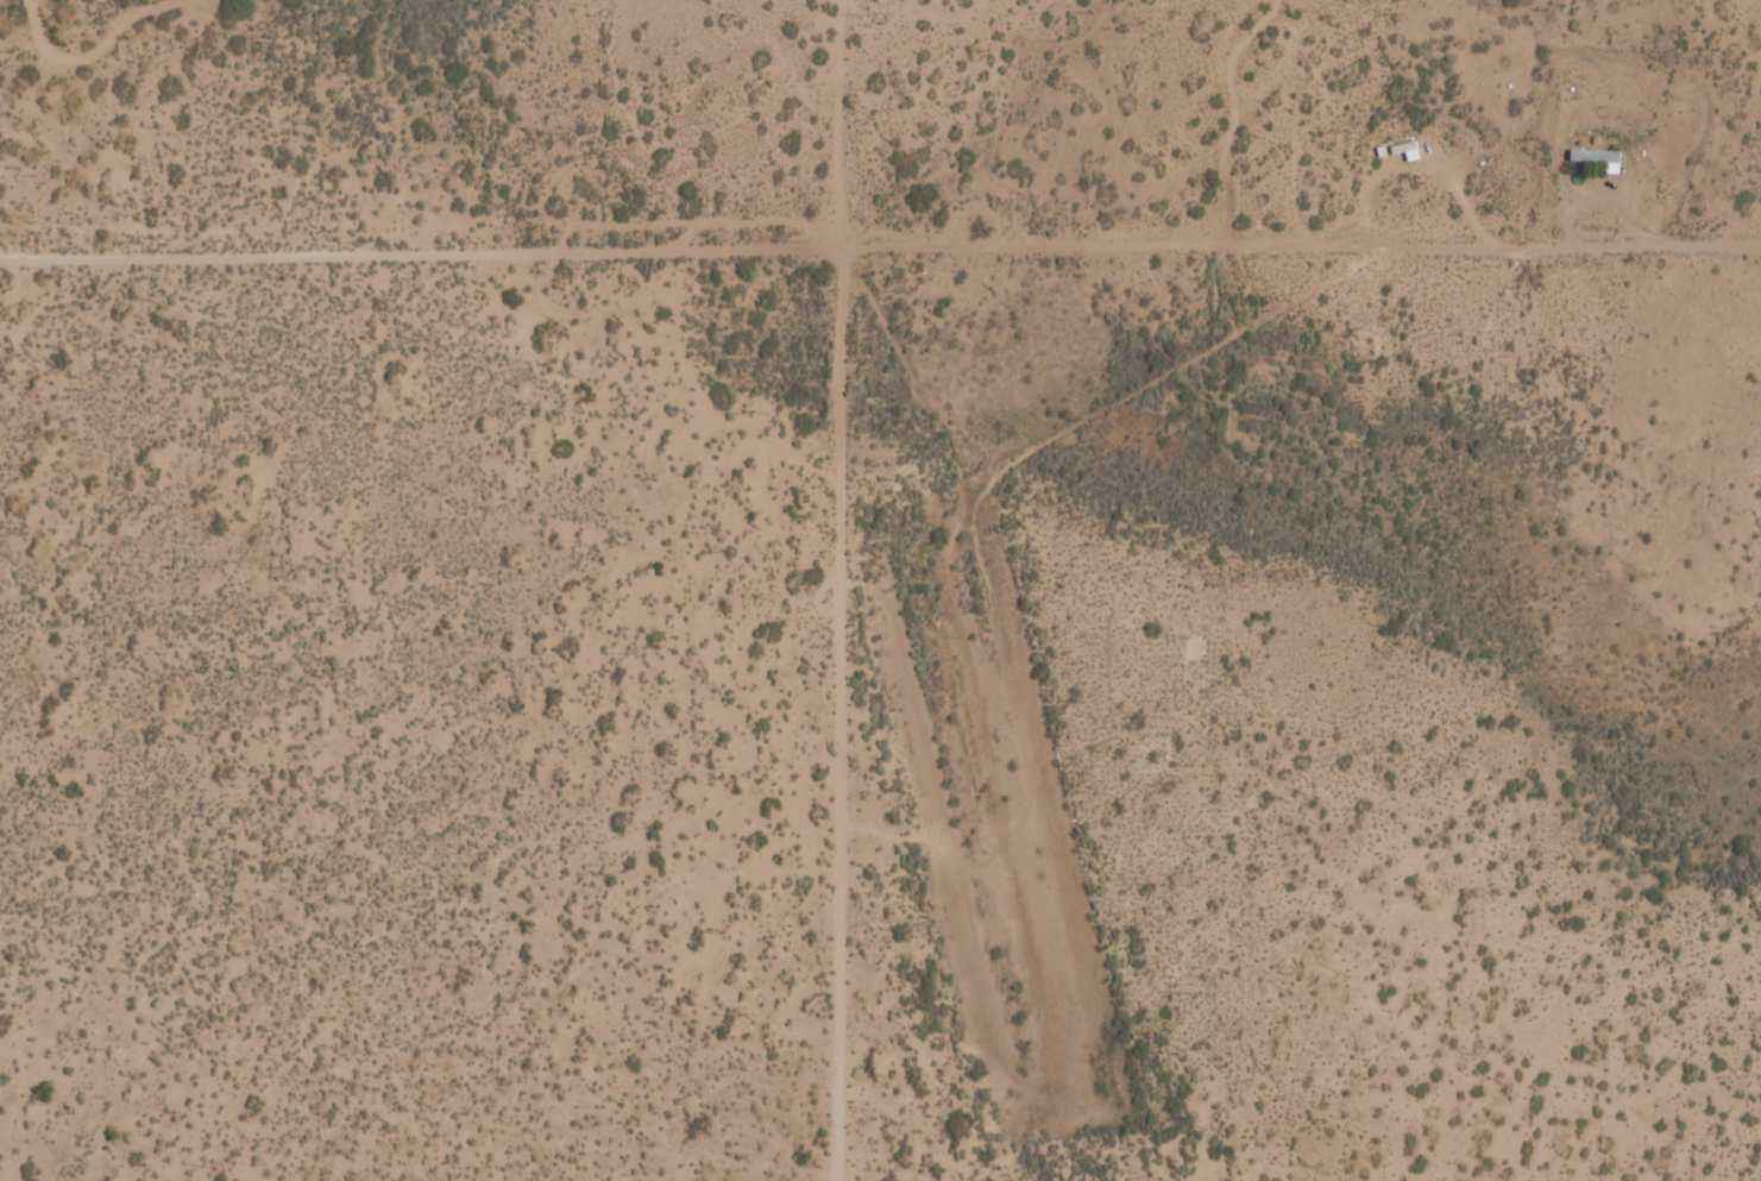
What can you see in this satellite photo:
road: (98, 51)
road: (839, 125)
road: (880, 250)
road: (837, 716)
road: (1045, 822)

